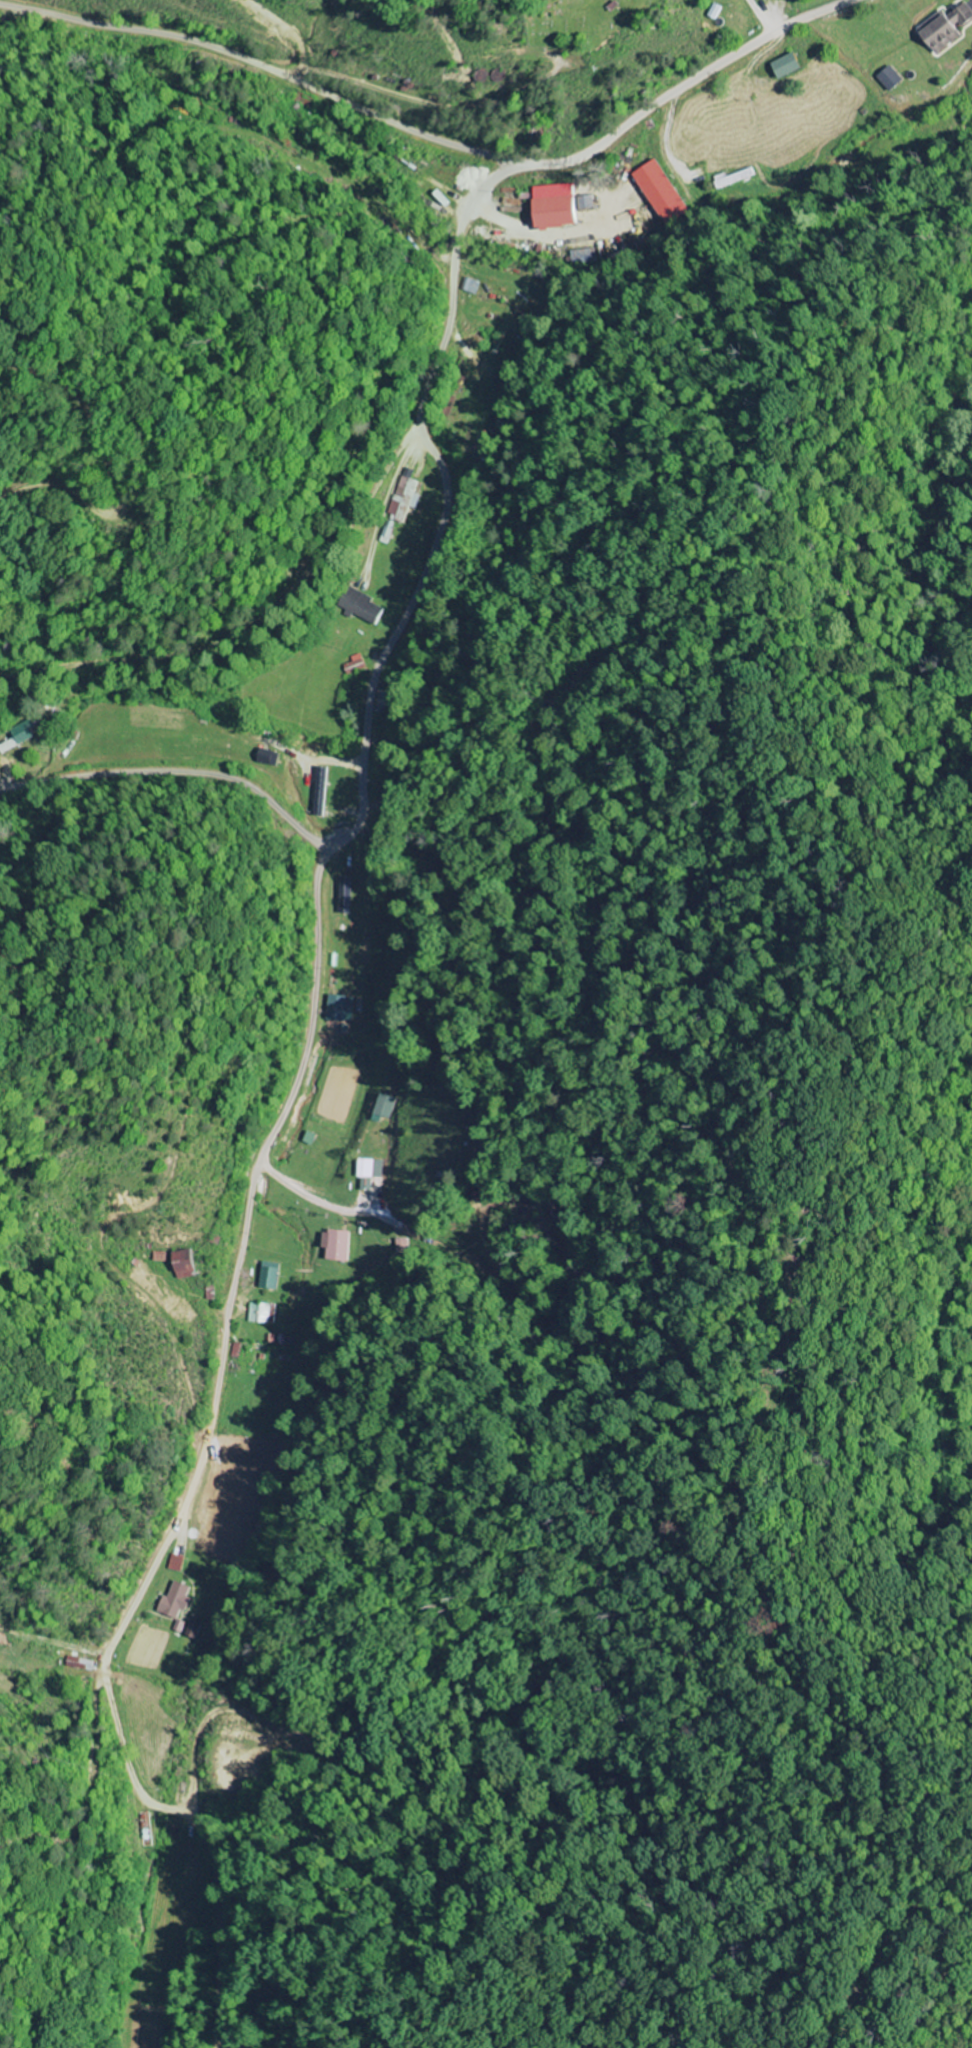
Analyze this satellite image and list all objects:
park: (583, 22)
building: (949, 28)
road: (265, 64)
building: (793, 65)
building: (893, 79)
building: (734, 178)
building: (664, 192)
building: (566, 206)
building: (473, 285)
road: (712, 293)
road: (437, 327)
road: (535, 424)
building: (409, 492)
building: (367, 609)
building: (357, 664)
building: (26, 732)
building: (9, 745)
building: (268, 757)
road: (173, 771)
building: (322, 791)
building: (341, 1008)
building: (382, 1107)
building: (373, 1169)
building: (338, 1245)
building: (190, 1264)
building: (272, 1276)
building: (263, 1313)
road: (203, 1452)
building: (179, 1600)
building: (196, 1629)
building: (82, 1663)
road: (203, 1882)

